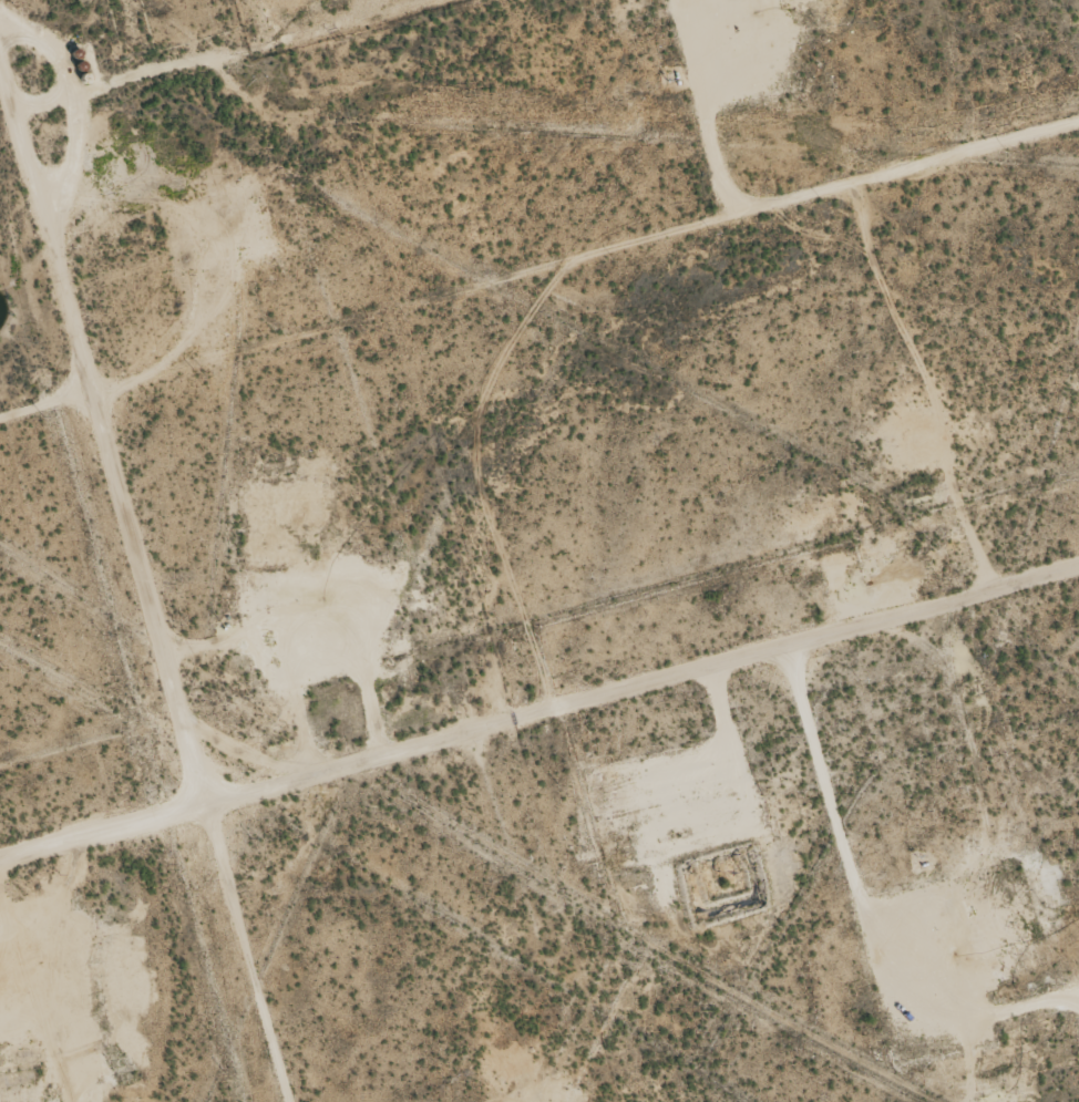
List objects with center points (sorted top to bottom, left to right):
road: (114, 80)
road: (577, 287)
road: (95, 499)
road: (539, 751)

